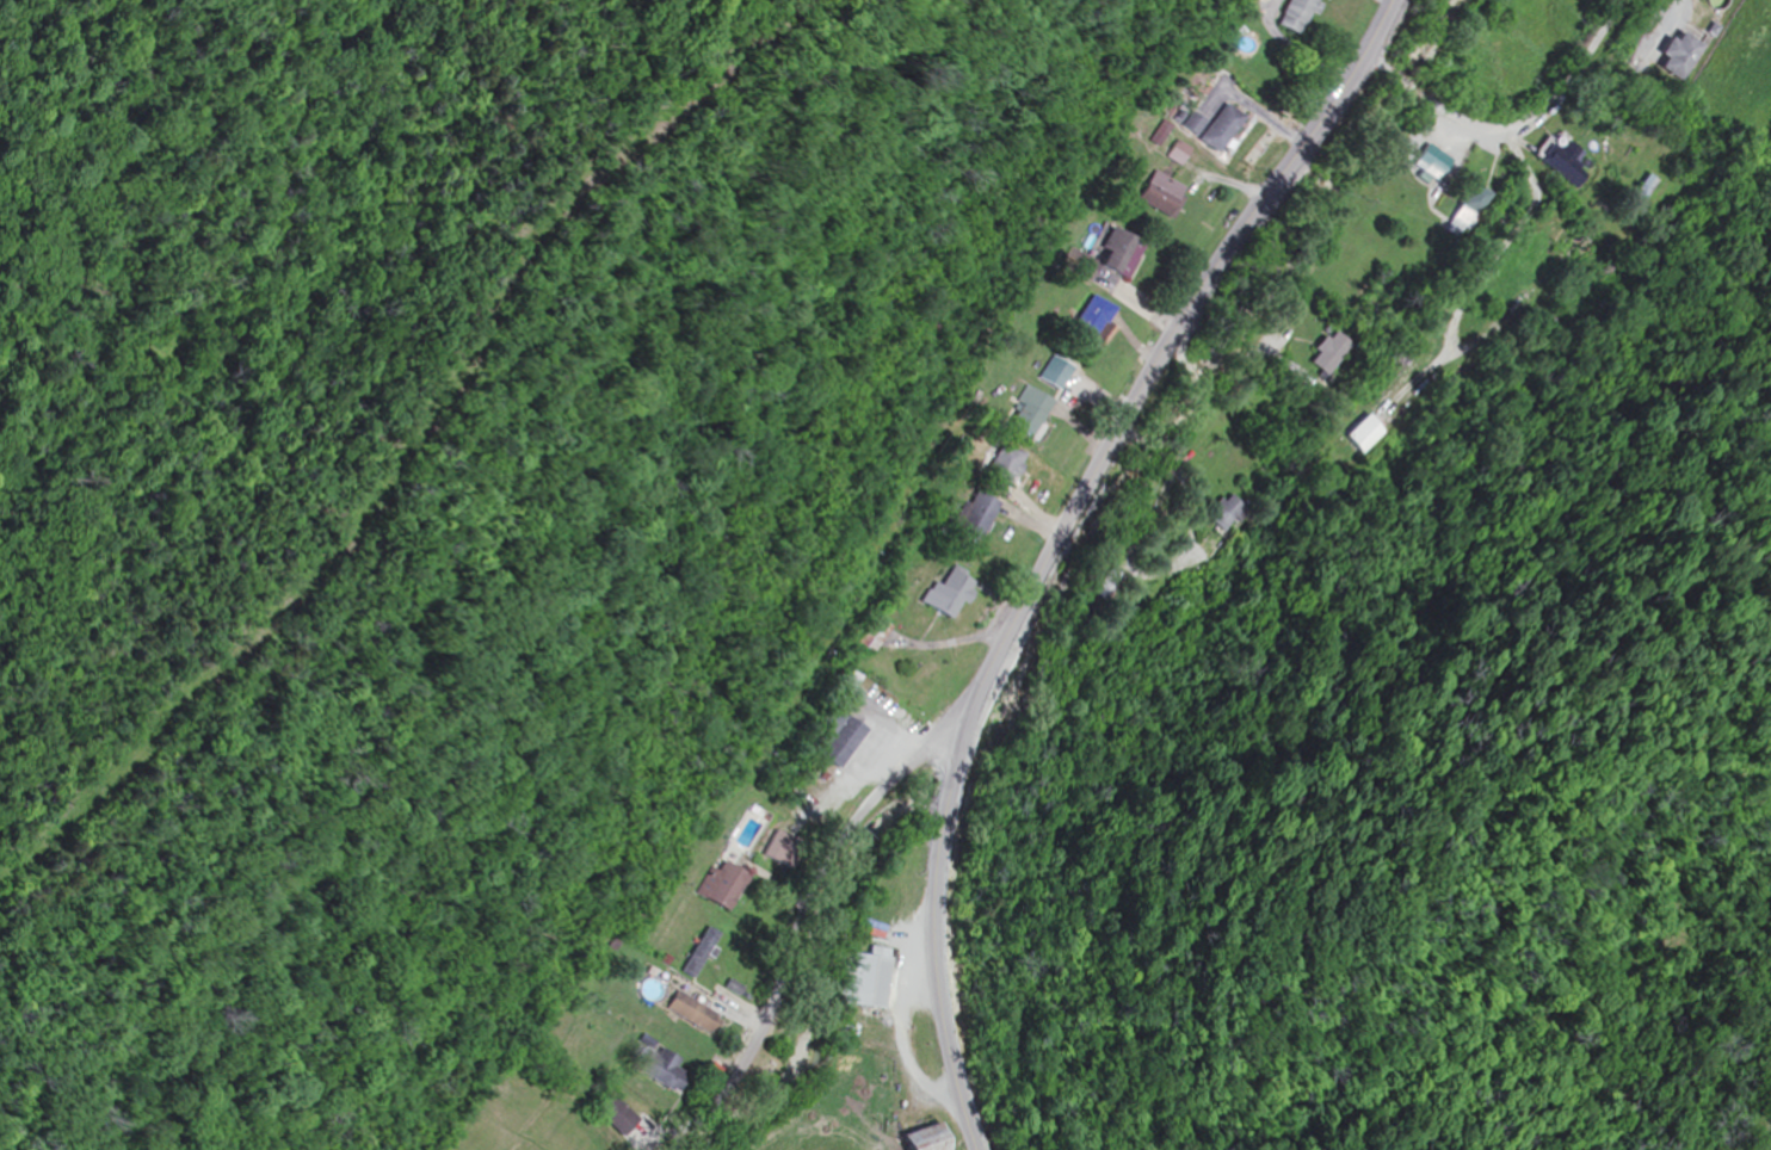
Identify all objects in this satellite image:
road: (1513, 123)
road: (1056, 540)
road: (798, 923)

